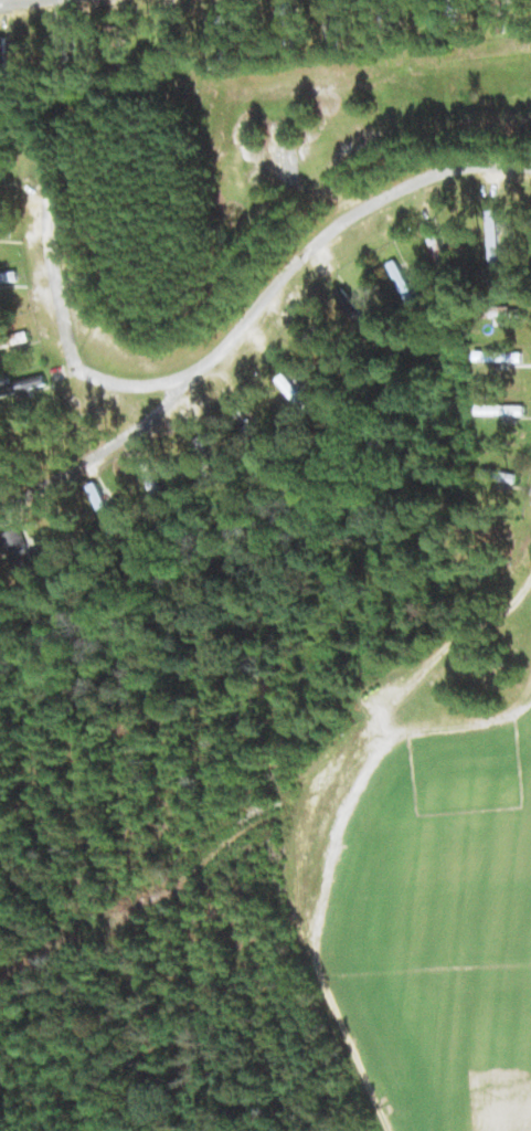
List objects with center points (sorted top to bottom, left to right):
road: (21, 2)
building: (223, 35)
building: (493, 236)
road: (262, 300)
building: (506, 316)
road: (65, 335)
building: (495, 356)
building: (22, 387)
building: (501, 410)

